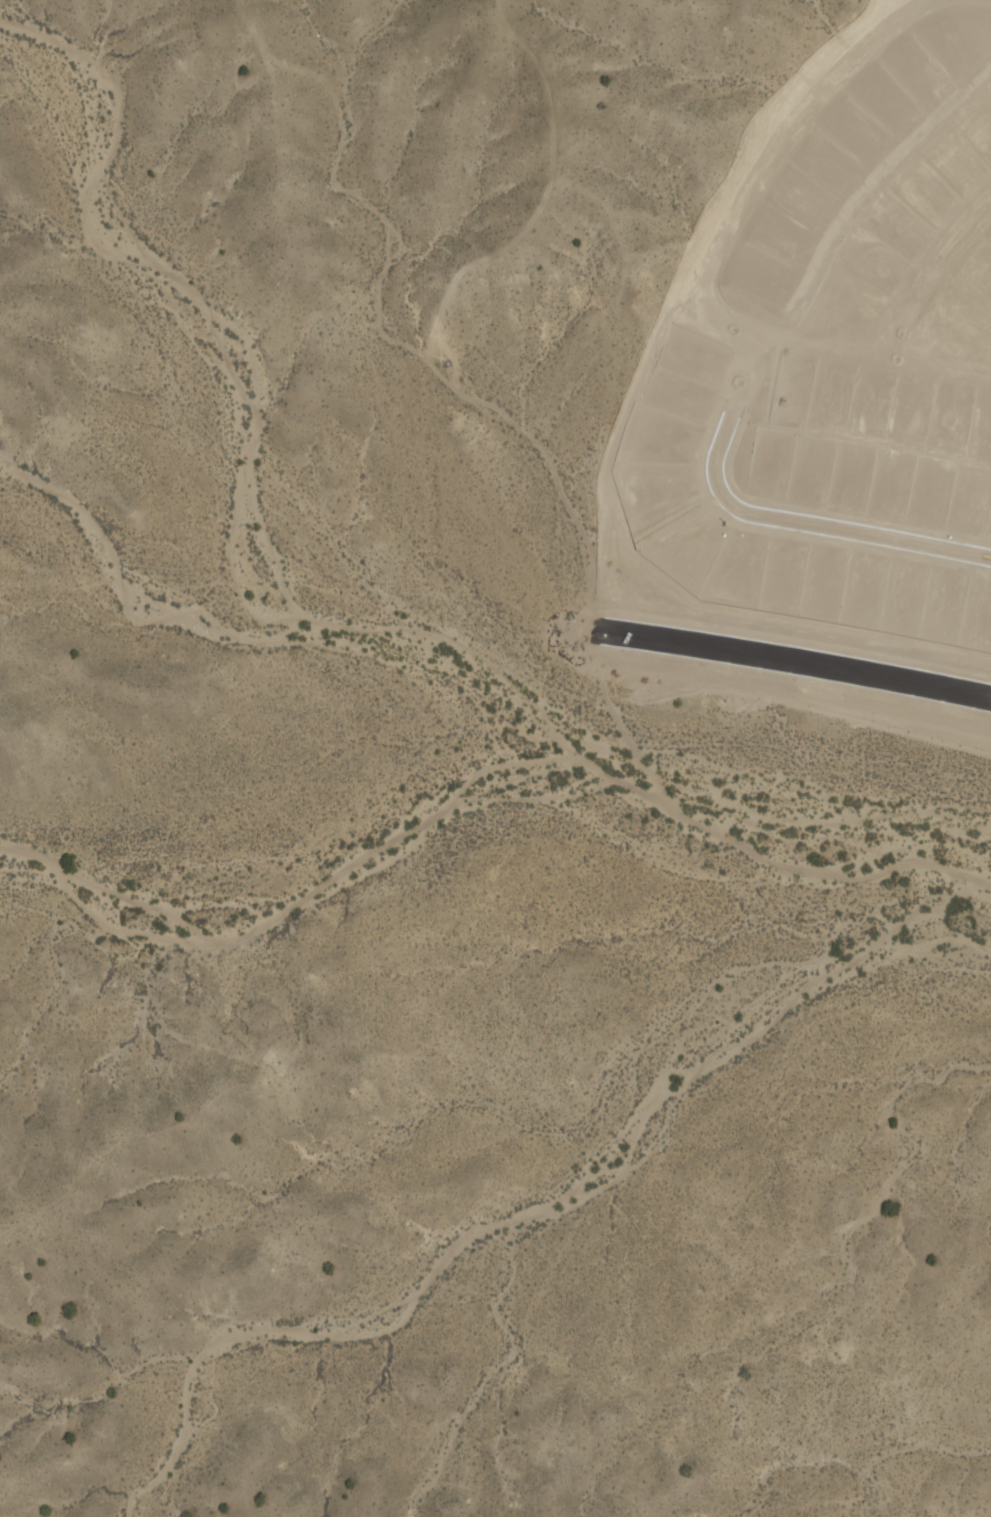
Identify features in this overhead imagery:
road: (773, 152)
road: (934, 272)
road: (875, 350)
road: (767, 516)
road: (801, 661)

